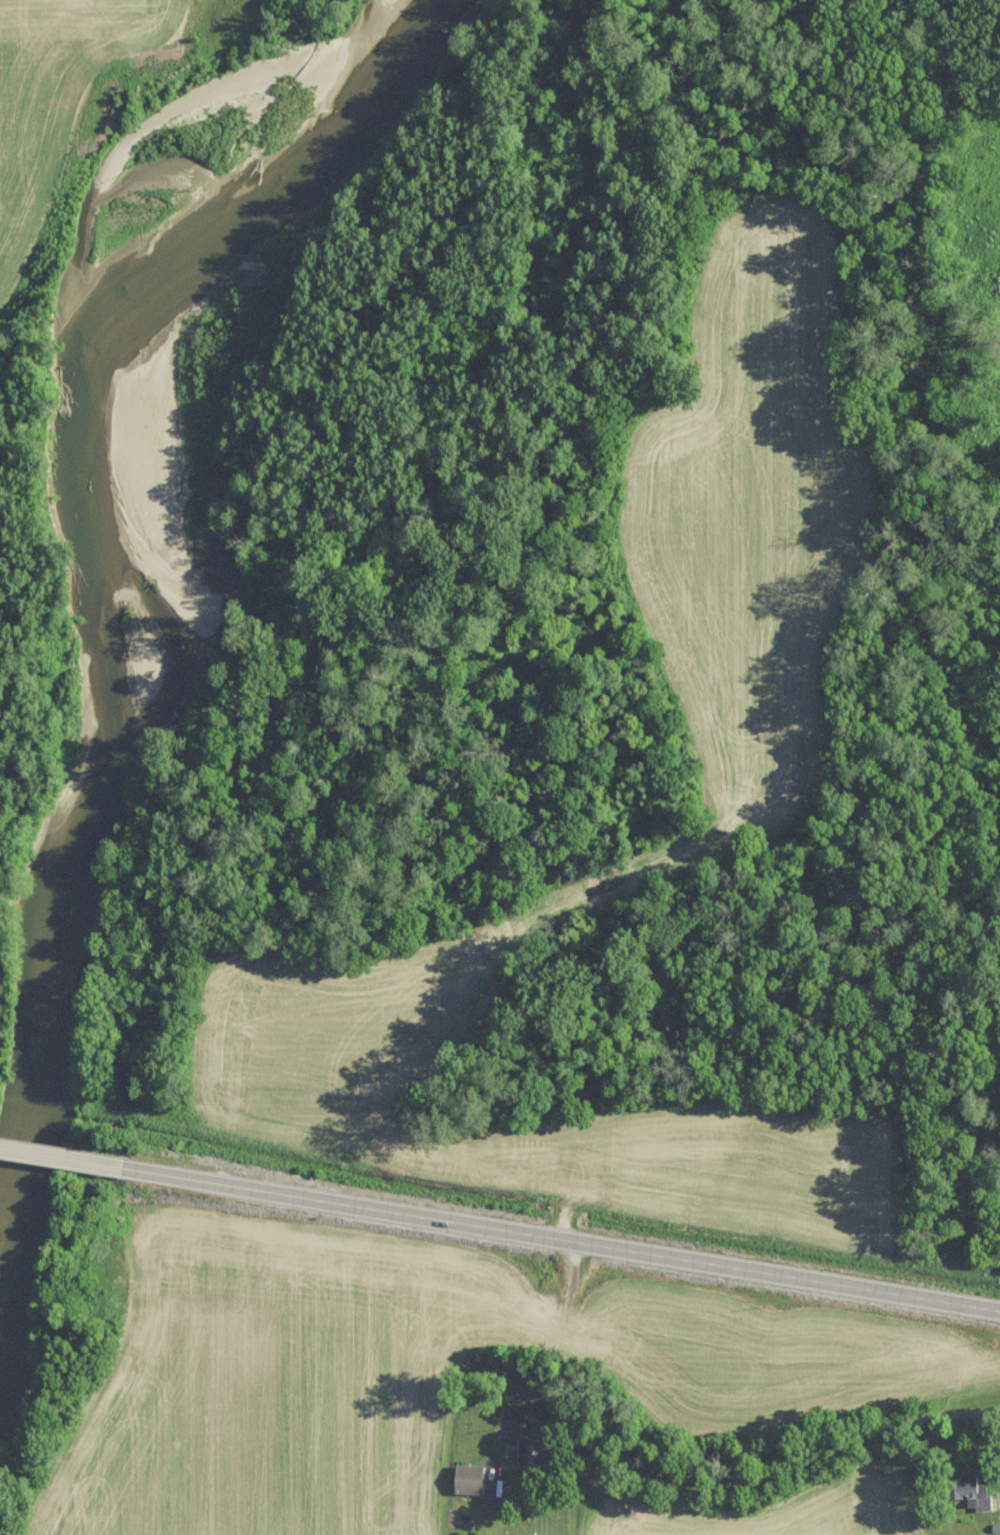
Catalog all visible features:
river: (211, 589)
road: (65, 1155)
road: (564, 1241)
building: (528, 1454)
building: (464, 1479)
road: (707, 1483)
building: (965, 1492)

